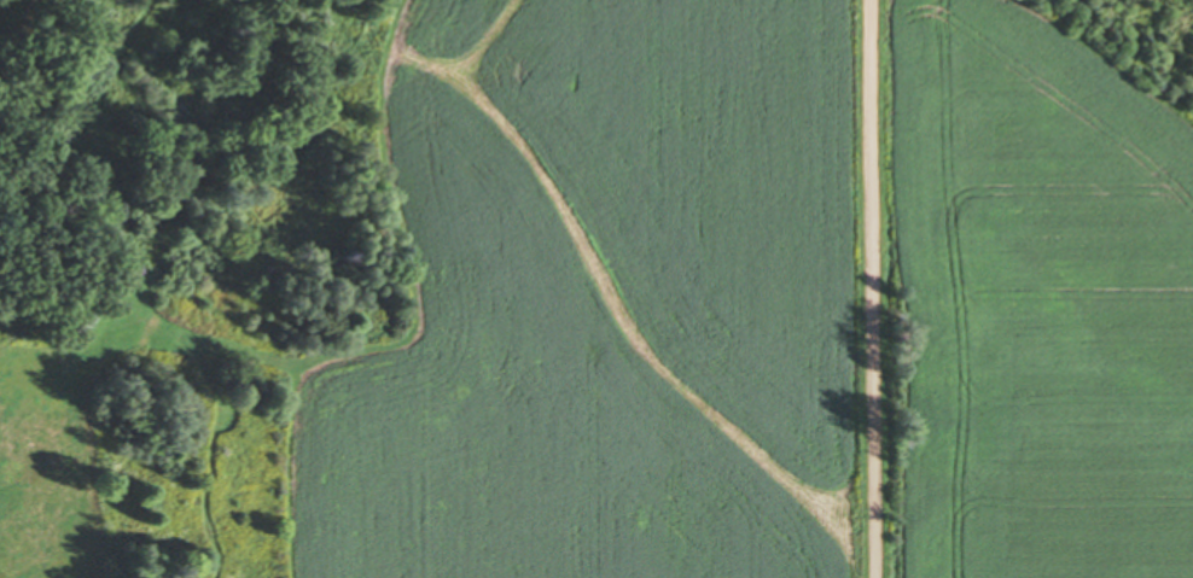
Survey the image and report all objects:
road: (875, 288)

